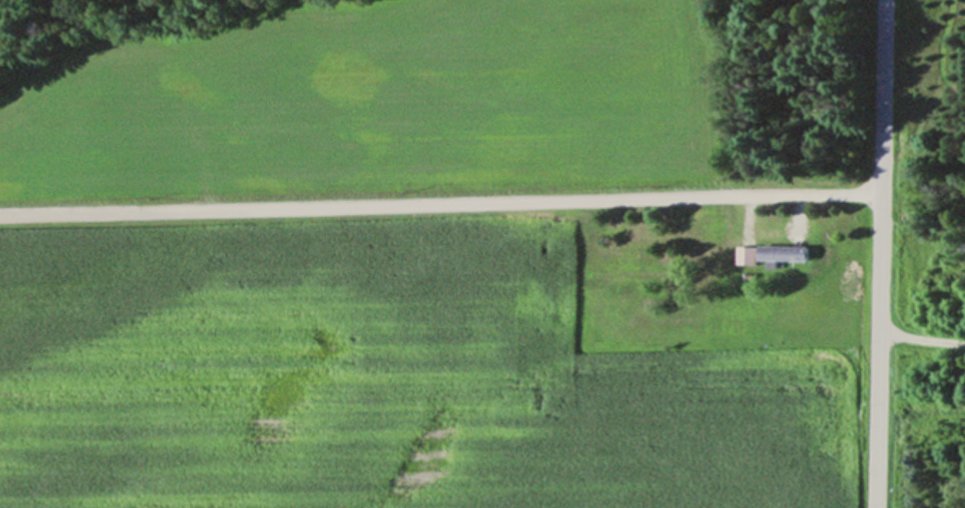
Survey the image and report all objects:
road: (442, 202)
building: (790, 252)
road: (882, 254)
building: (751, 255)
building: (660, 259)
road: (923, 337)

